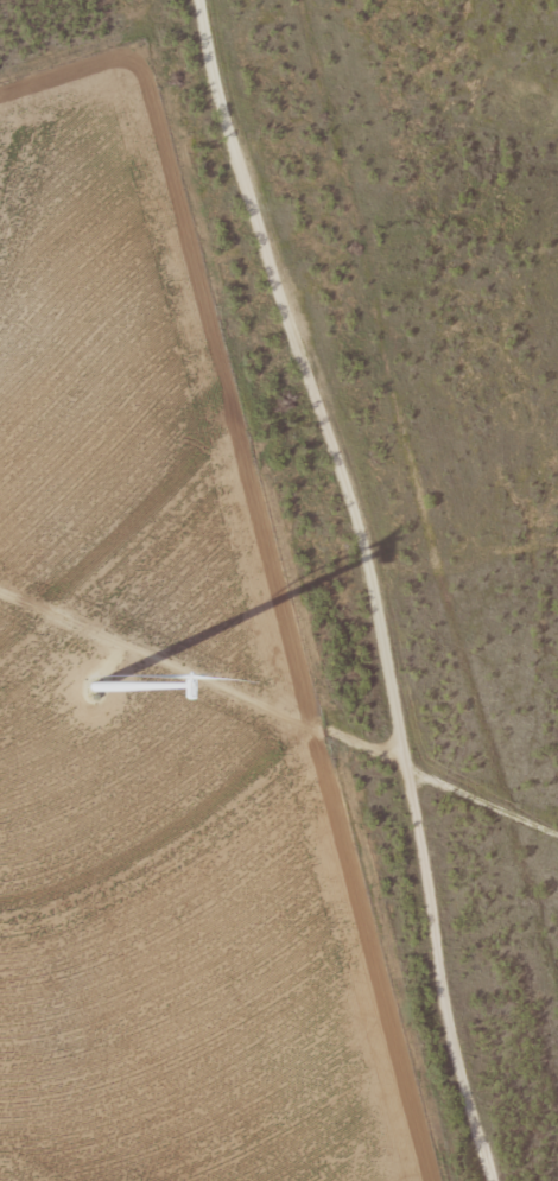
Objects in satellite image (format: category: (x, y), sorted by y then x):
road: (355, 586)
wind turbine: (89, 700)

